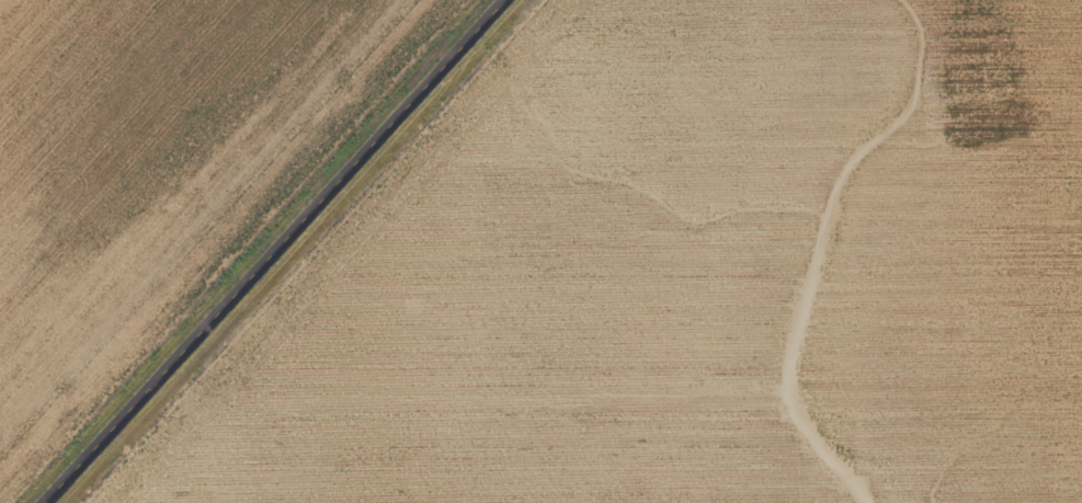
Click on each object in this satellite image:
railway: (228, 250)
road: (280, 250)

